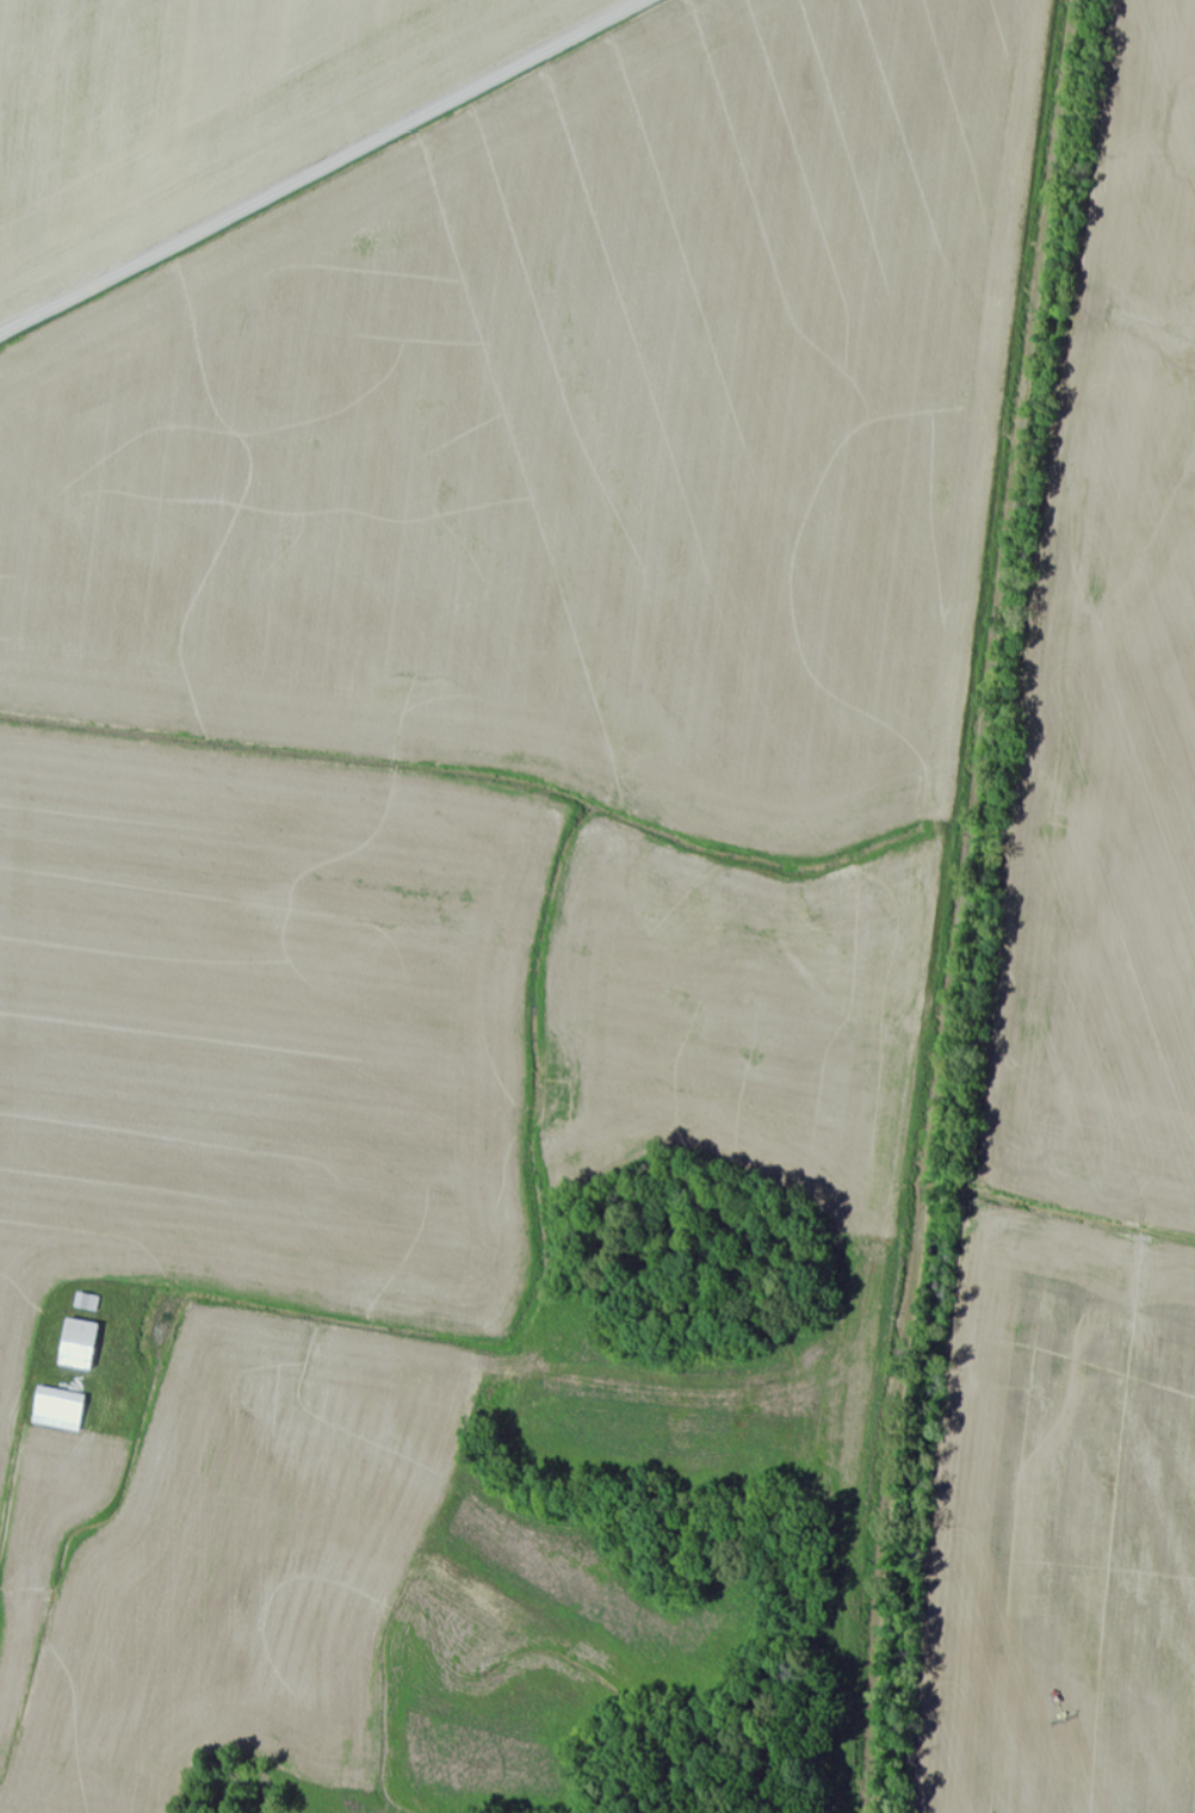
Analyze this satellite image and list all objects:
road: (322, 168)
building: (74, 1345)
building: (56, 1410)

